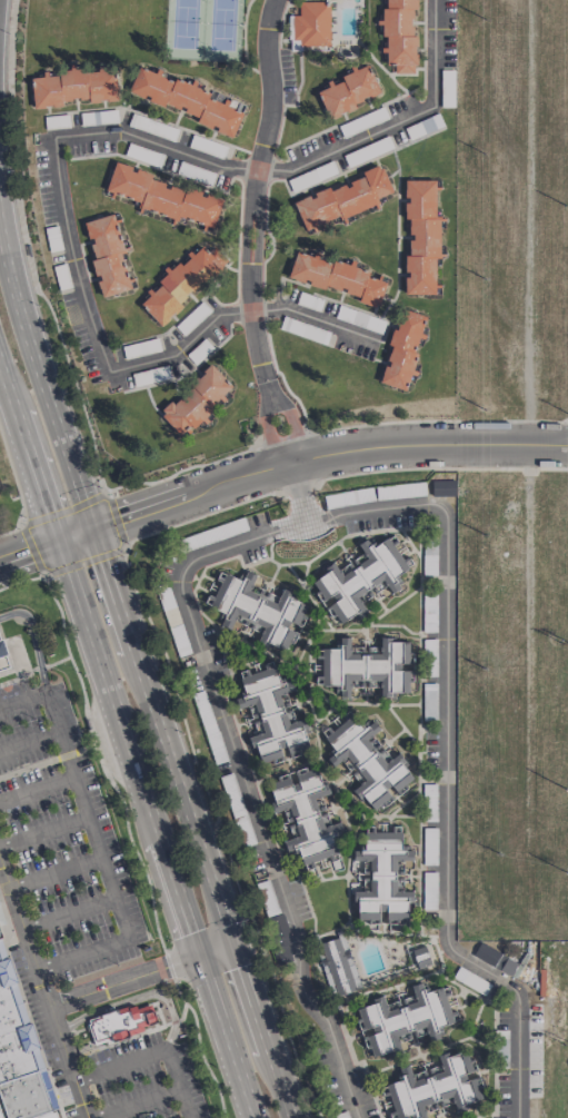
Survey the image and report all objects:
building: (311, 23)
building: (399, 34)
building: (73, 87)
building: (349, 91)
building: (185, 100)
road: (392, 121)
road: (155, 144)
road: (253, 187)
building: (163, 197)
building: (343, 198)
building: (421, 237)
building: (107, 255)
road: (72, 257)
building: (337, 277)
building: (180, 284)
road: (315, 319)
road: (183, 347)
building: (402, 349)
road: (270, 385)
building: (197, 402)
road: (296, 427)
road: (269, 434)
road: (278, 473)
road: (302, 495)
road: (338, 513)
road: (22, 522)
traffic signals: (90, 530)
traffic signals: (57, 541)
building: (360, 580)
building: (258, 610)
road: (33, 640)
building: (3, 656)
building: (368, 666)
road: (142, 676)
road: (24, 700)
building: (271, 715)
road: (122, 739)
road: (31, 742)
building: (368, 762)
road: (38, 785)
road: (90, 814)
building: (306, 815)
road: (46, 832)
road: (56, 872)
building: (381, 878)
road: (70, 913)
building: (2, 917)
building: (0, 934)
road: (217, 948)
road: (84, 954)
building: (422, 956)
building: (335, 967)
building: (6, 969)
road: (121, 980)
road: (43, 989)
road: (136, 998)
building: (12, 1008)
building: (403, 1018)
building: (122, 1025)
building: (19, 1052)
road: (121, 1065)
road: (179, 1084)
building: (435, 1087)
building: (28, 1095)
road: (134, 1102)
building: (0, 1115)
building: (47, 1115)

